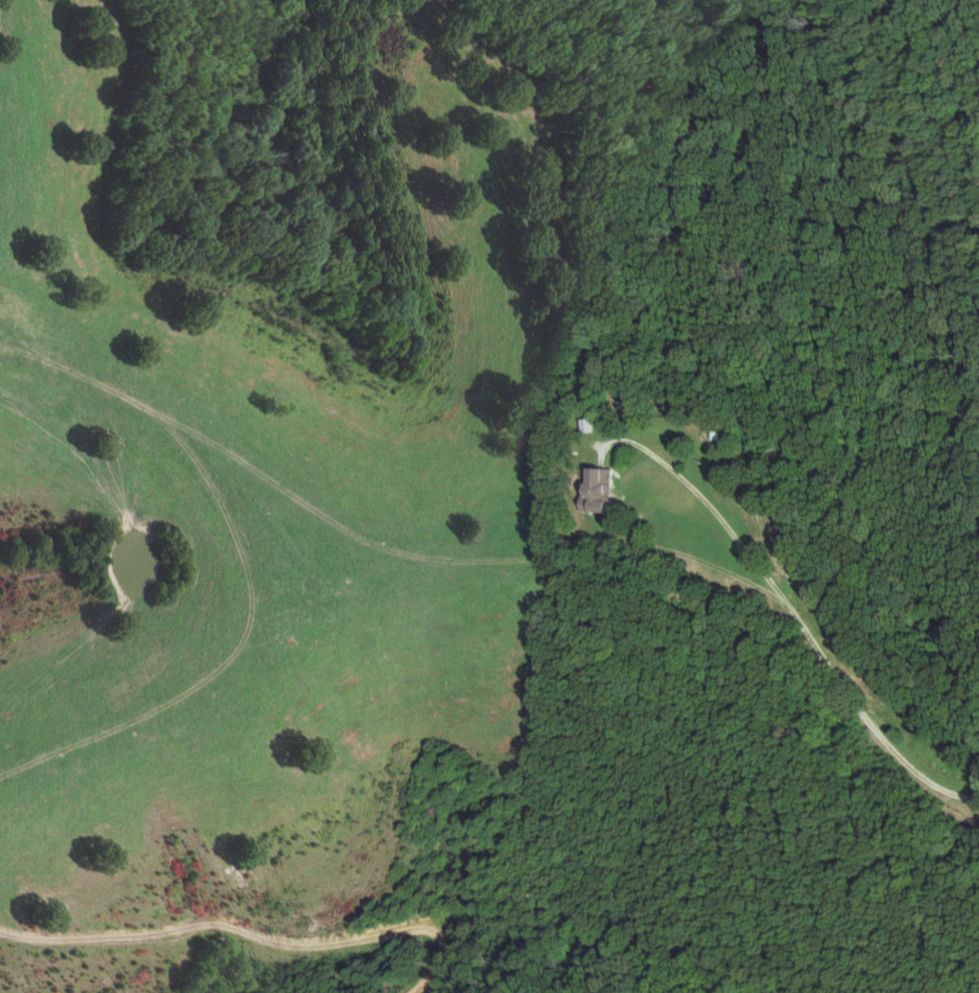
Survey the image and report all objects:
road: (612, 445)
road: (808, 644)

